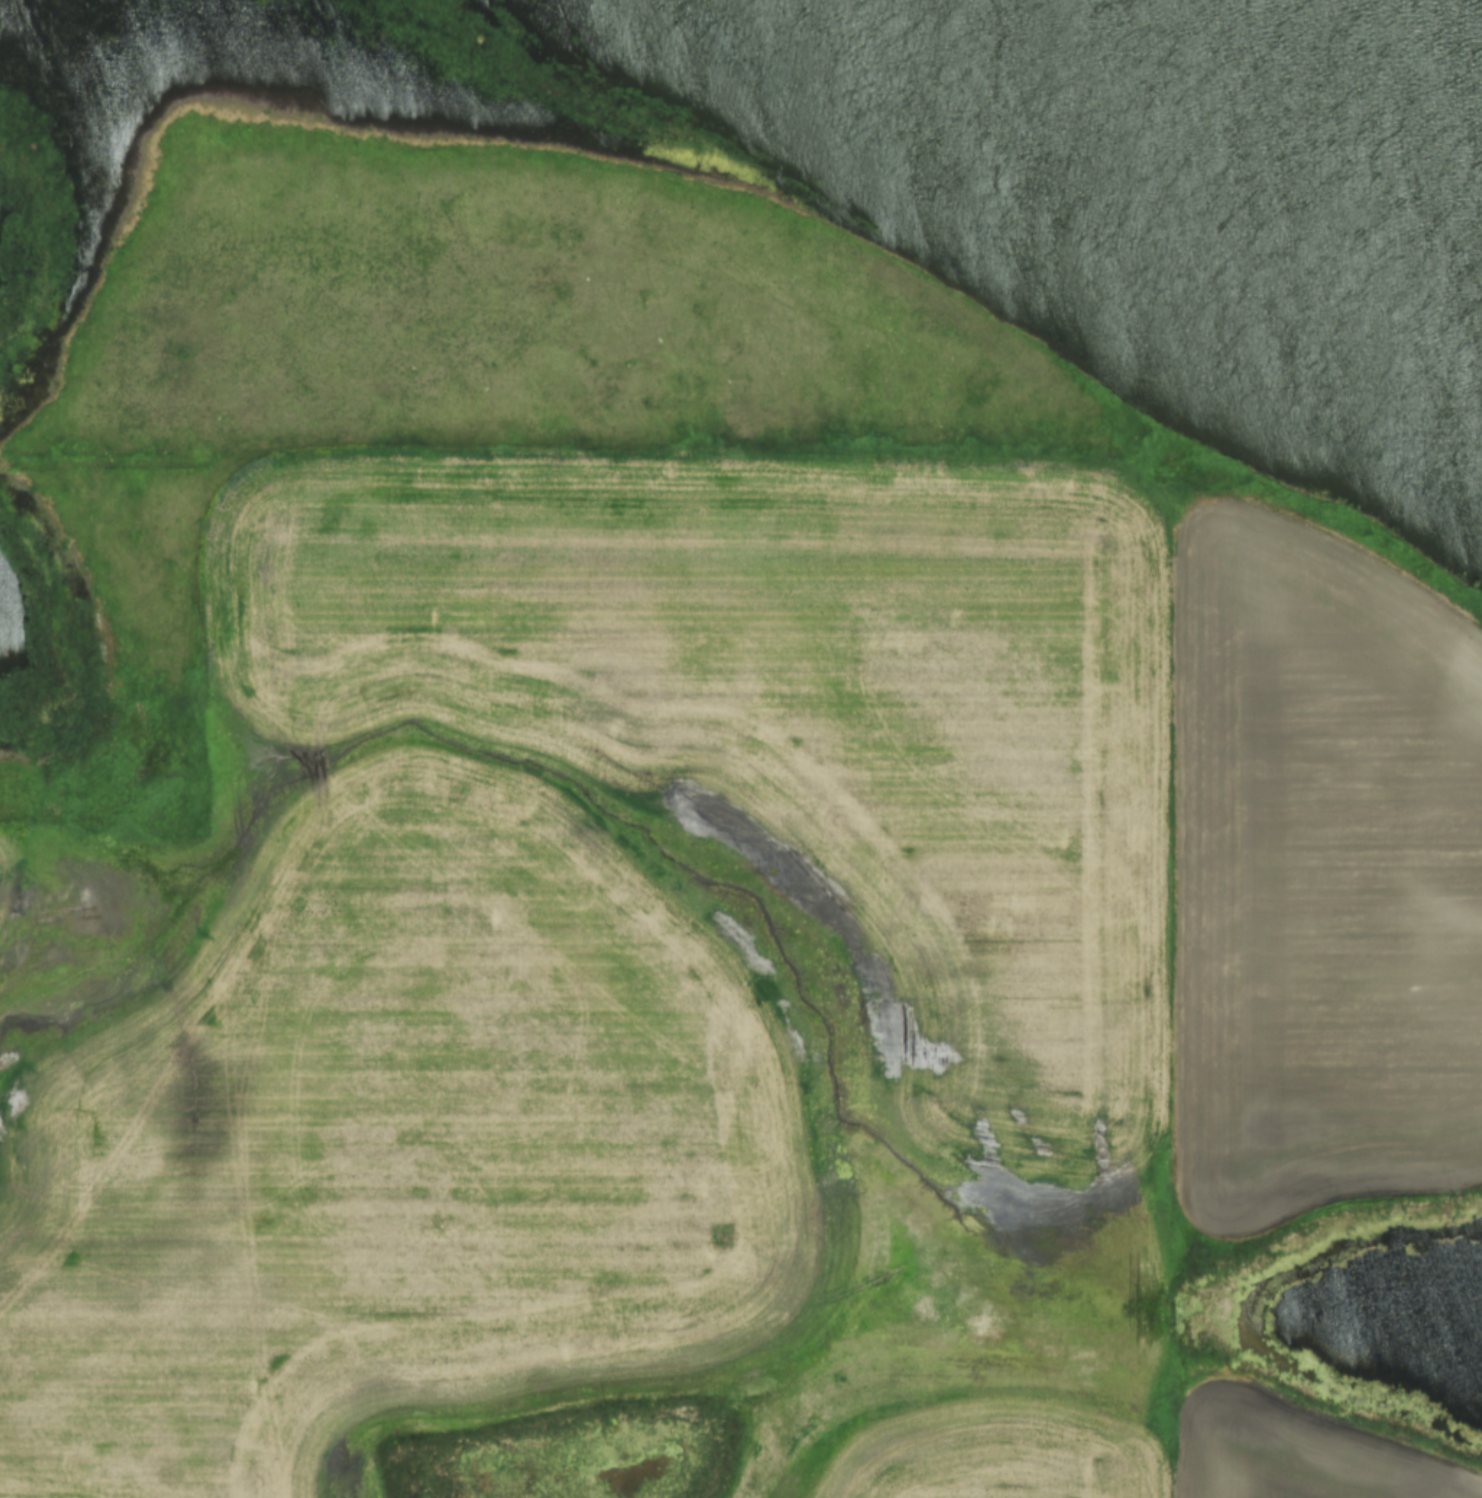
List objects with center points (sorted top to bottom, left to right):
road: (1366, 556)

